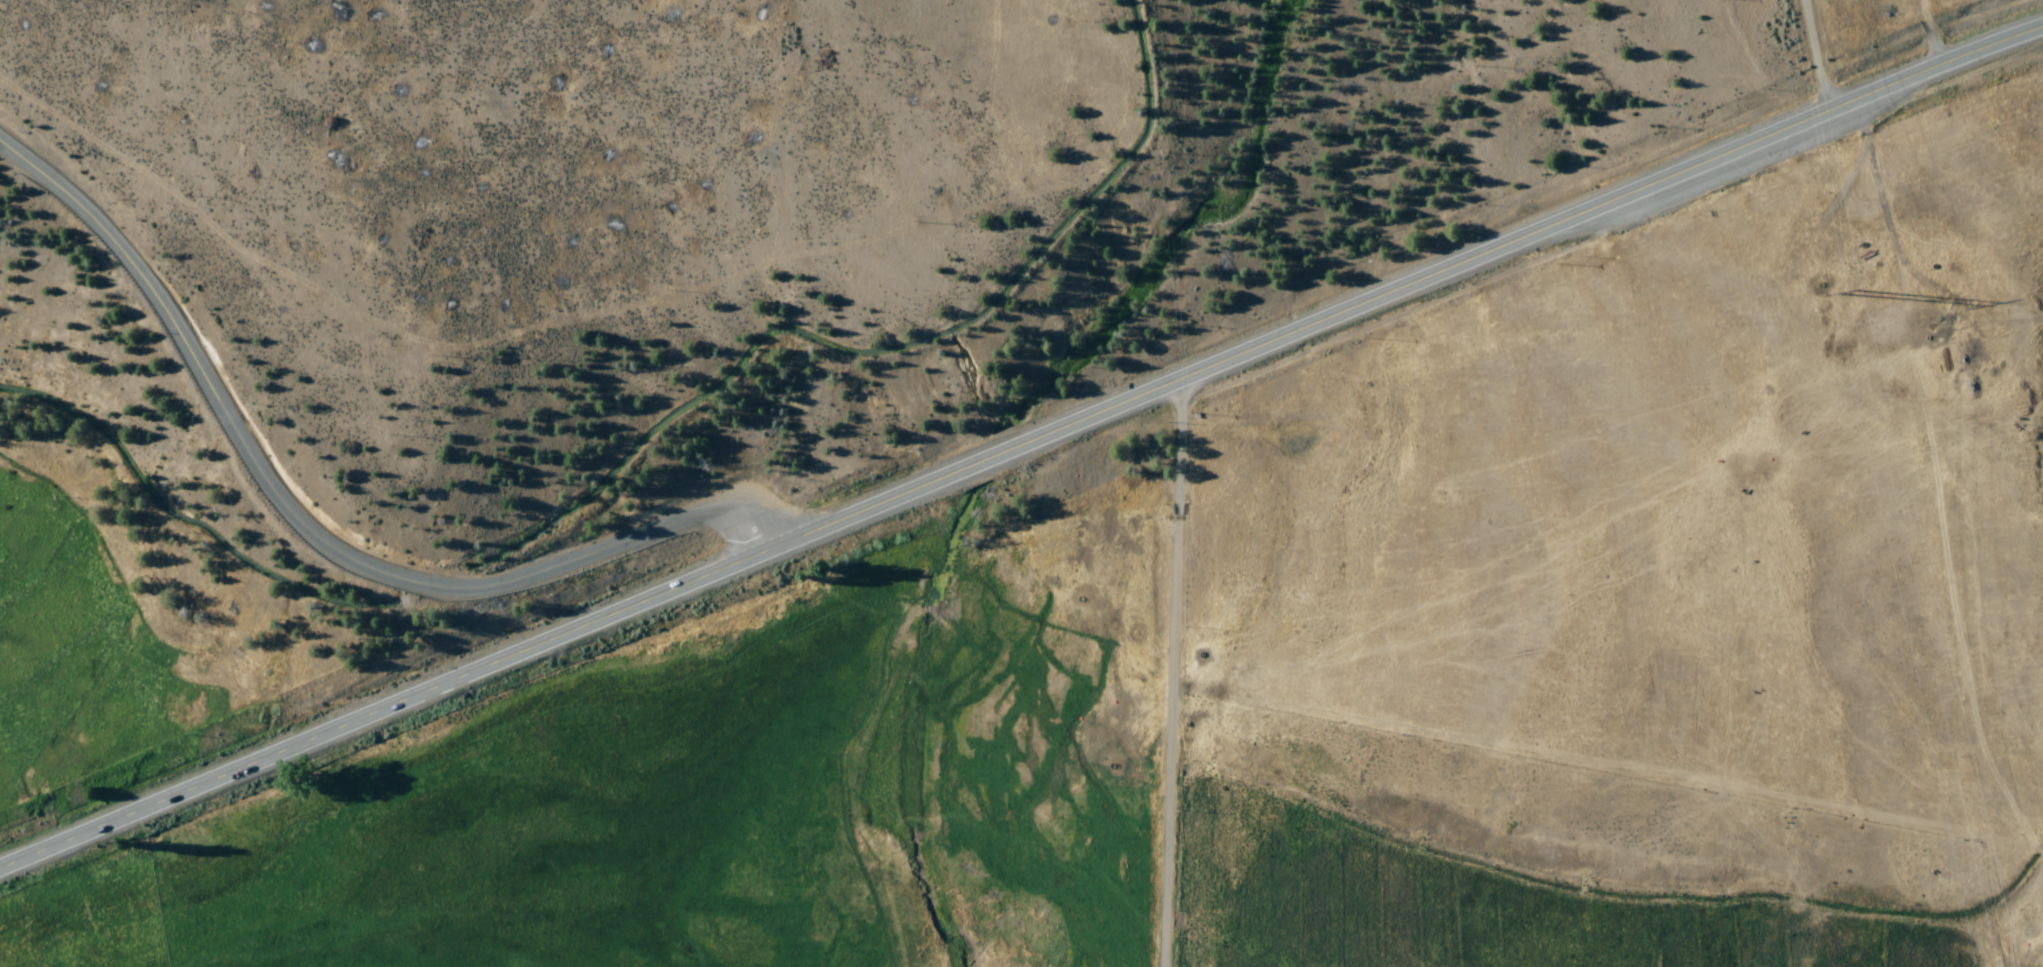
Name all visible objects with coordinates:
power tower: (1855, 294)
road: (1020, 446)
road: (312, 533)
road: (1177, 672)

